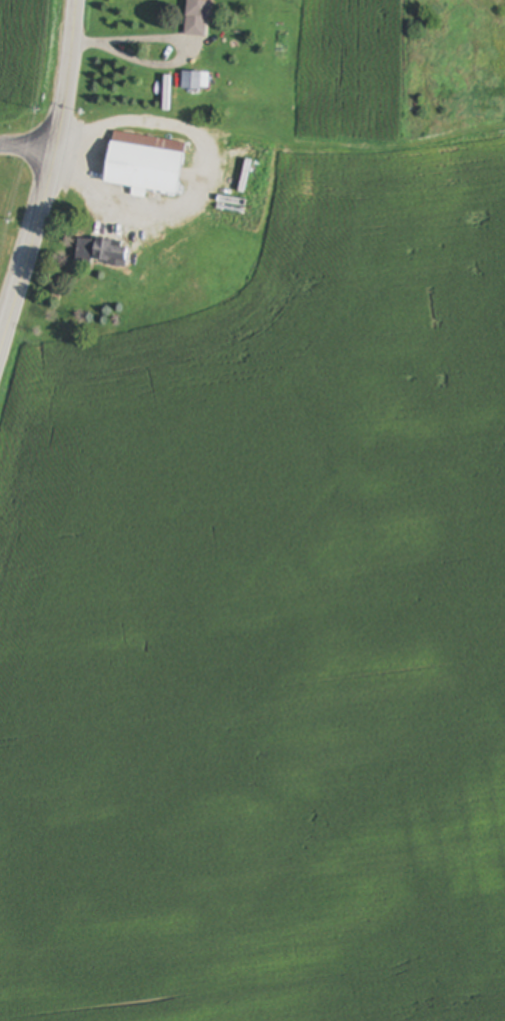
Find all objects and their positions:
building: (199, 18)
road: (180, 45)
road: (28, 151)
building: (147, 164)
road: (197, 173)
road: (49, 177)
building: (109, 249)

